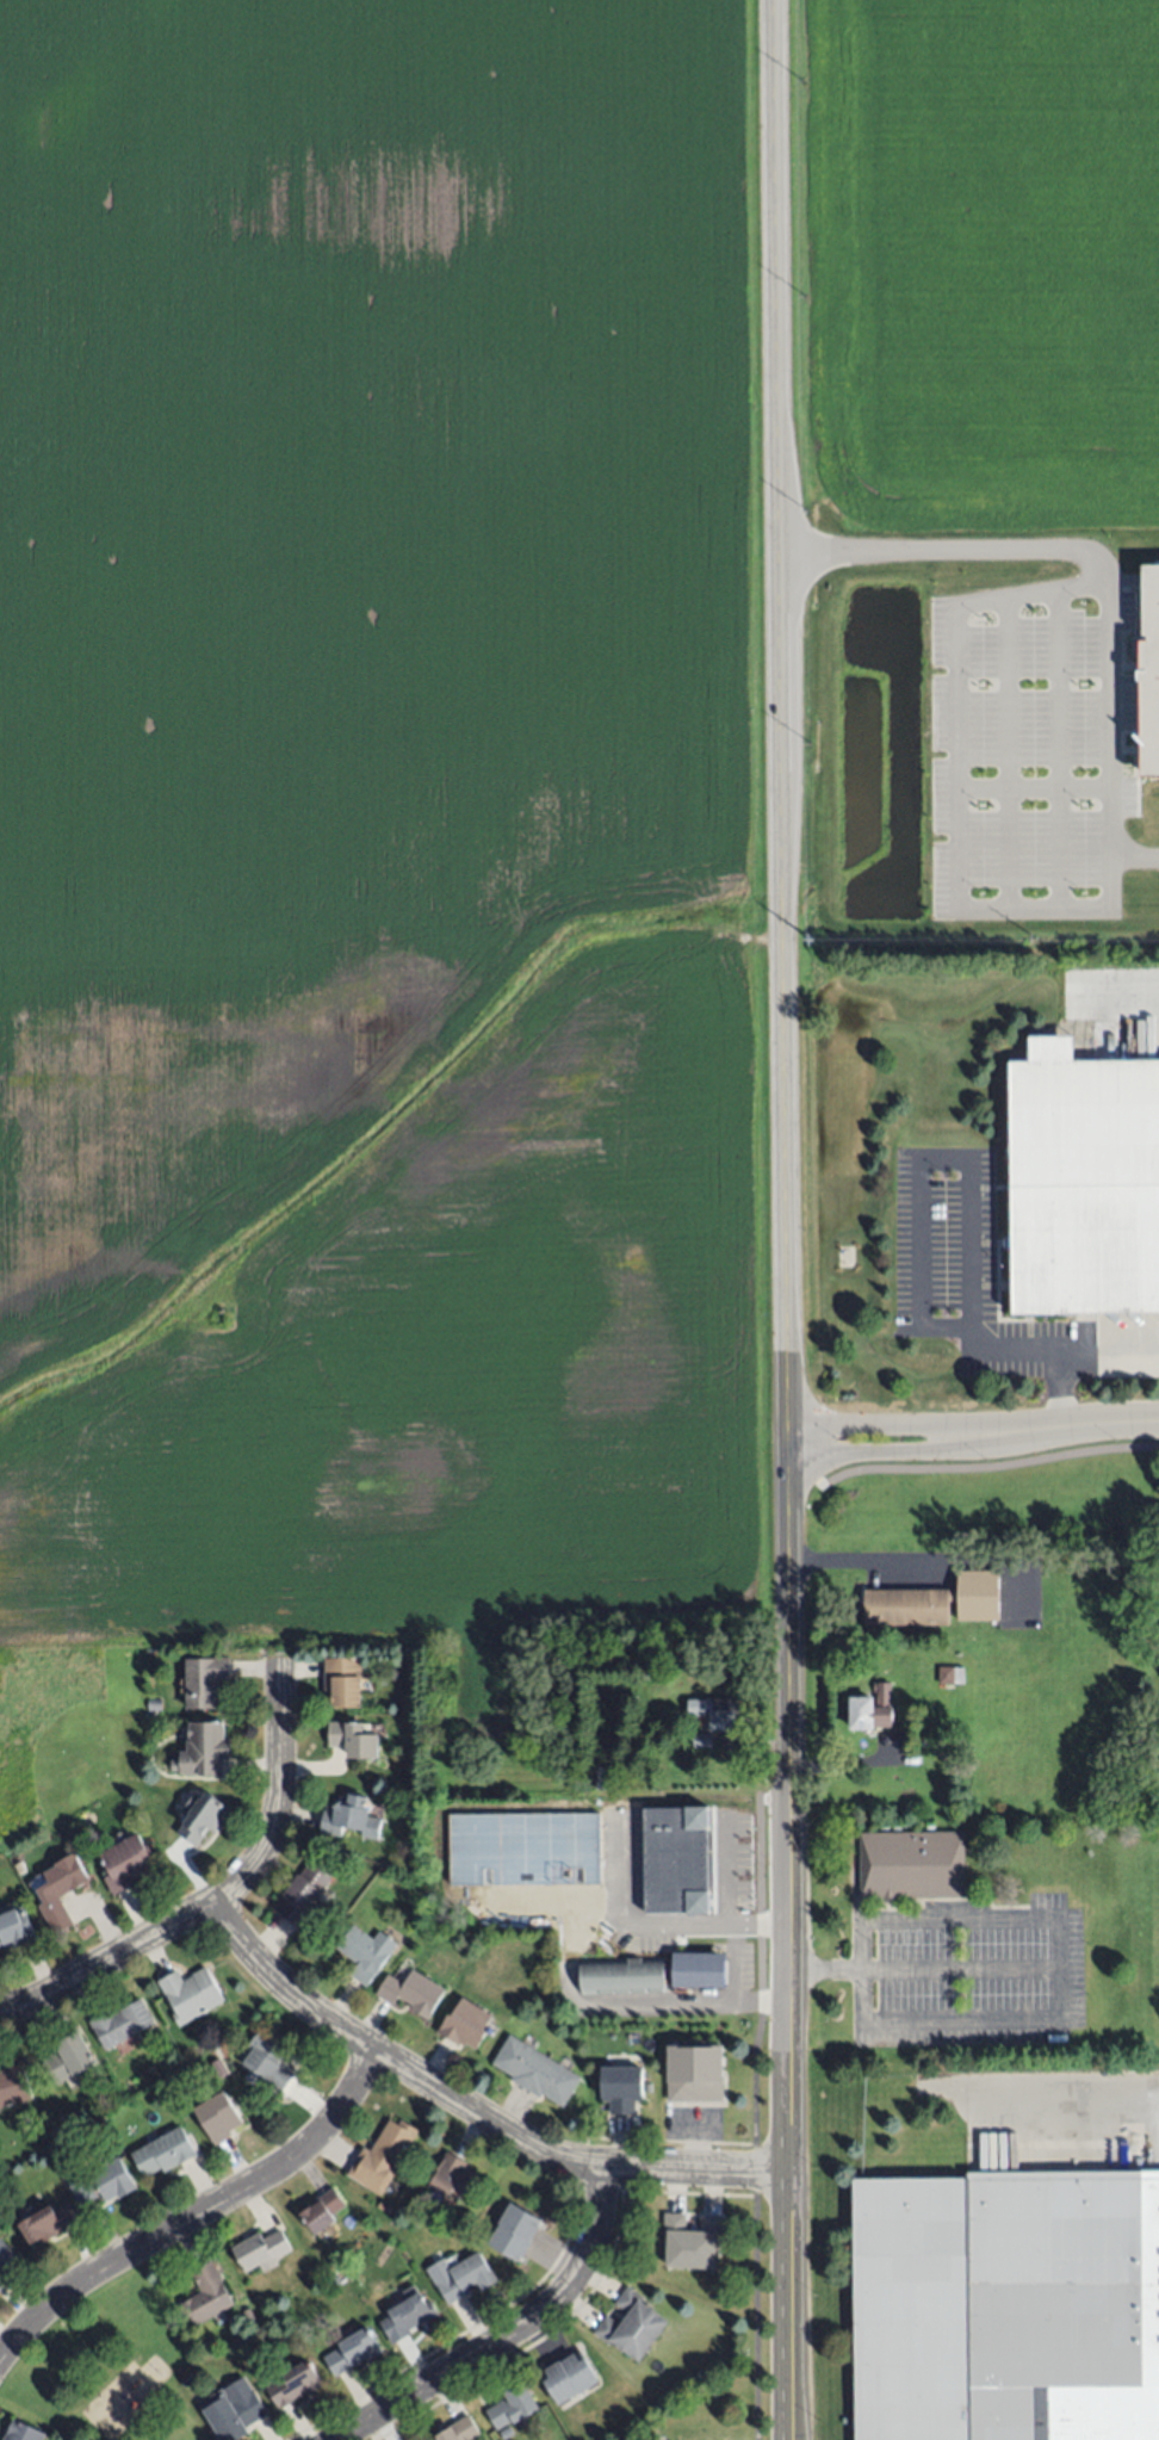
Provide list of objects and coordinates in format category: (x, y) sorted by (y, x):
crop: (985, 423)
road: (953, 552)
building: (1152, 576)
road: (961, 651)
road: (1139, 859)
road: (783, 968)
building: (1084, 1181)
road: (972, 1201)
road: (1110, 1350)
road: (915, 1423)
road: (1099, 1428)
road: (913, 1455)
road: (987, 1467)
road: (864, 1562)
building: (937, 1602)
building: (950, 1676)
building: (340, 1680)
building: (202, 1683)
building: (715, 1711)
building: (870, 1713)
building: (702, 1738)
building: (351, 1744)
building: (207, 1748)
road: (844, 1764)
building: (607, 1777)
building: (192, 1819)
building: (352, 1819)
building: (677, 1860)
building: (123, 1864)
building: (911, 1866)
road: (225, 1893)
building: (58, 1894)
building: (299, 1895)
road: (956, 1921)
building: (14, 1930)
building: (368, 1952)
building: (698, 1967)
building: (622, 1975)
road: (1055, 1988)
building: (413, 1993)
building: (188, 1996)
road: (687, 2004)
building: (118, 2026)
building: (465, 2027)
building: (66, 2057)
building: (267, 2067)
building: (699, 2069)
building: (533, 2073)
road: (1053, 2085)
building: (13, 2087)
building: (624, 2087)
road: (469, 2110)
building: (217, 2117)
building: (68, 2137)
building: (163, 2153)
building: (378, 2156)
building: (438, 2180)
building: (101, 2184)
road: (789, 2188)
building: (380, 2204)
building: (321, 2211)
road: (198, 2215)
building: (47, 2223)
road: (755, 2225)
building: (514, 2232)
building: (690, 2241)
building: (260, 2250)
building: (5, 2258)
building: (459, 2274)
building: (206, 2295)
building: (1006, 2305)
building: (248, 2315)
building: (407, 2315)
building: (631, 2326)
road: (510, 2333)
building: (351, 2353)
park: (119, 2377)
building: (569, 2378)
building: (185, 2380)
building: (292, 2384)
building: (512, 2407)
building: (234, 2409)
building: (457, 2430)
building: (21, 2432)

